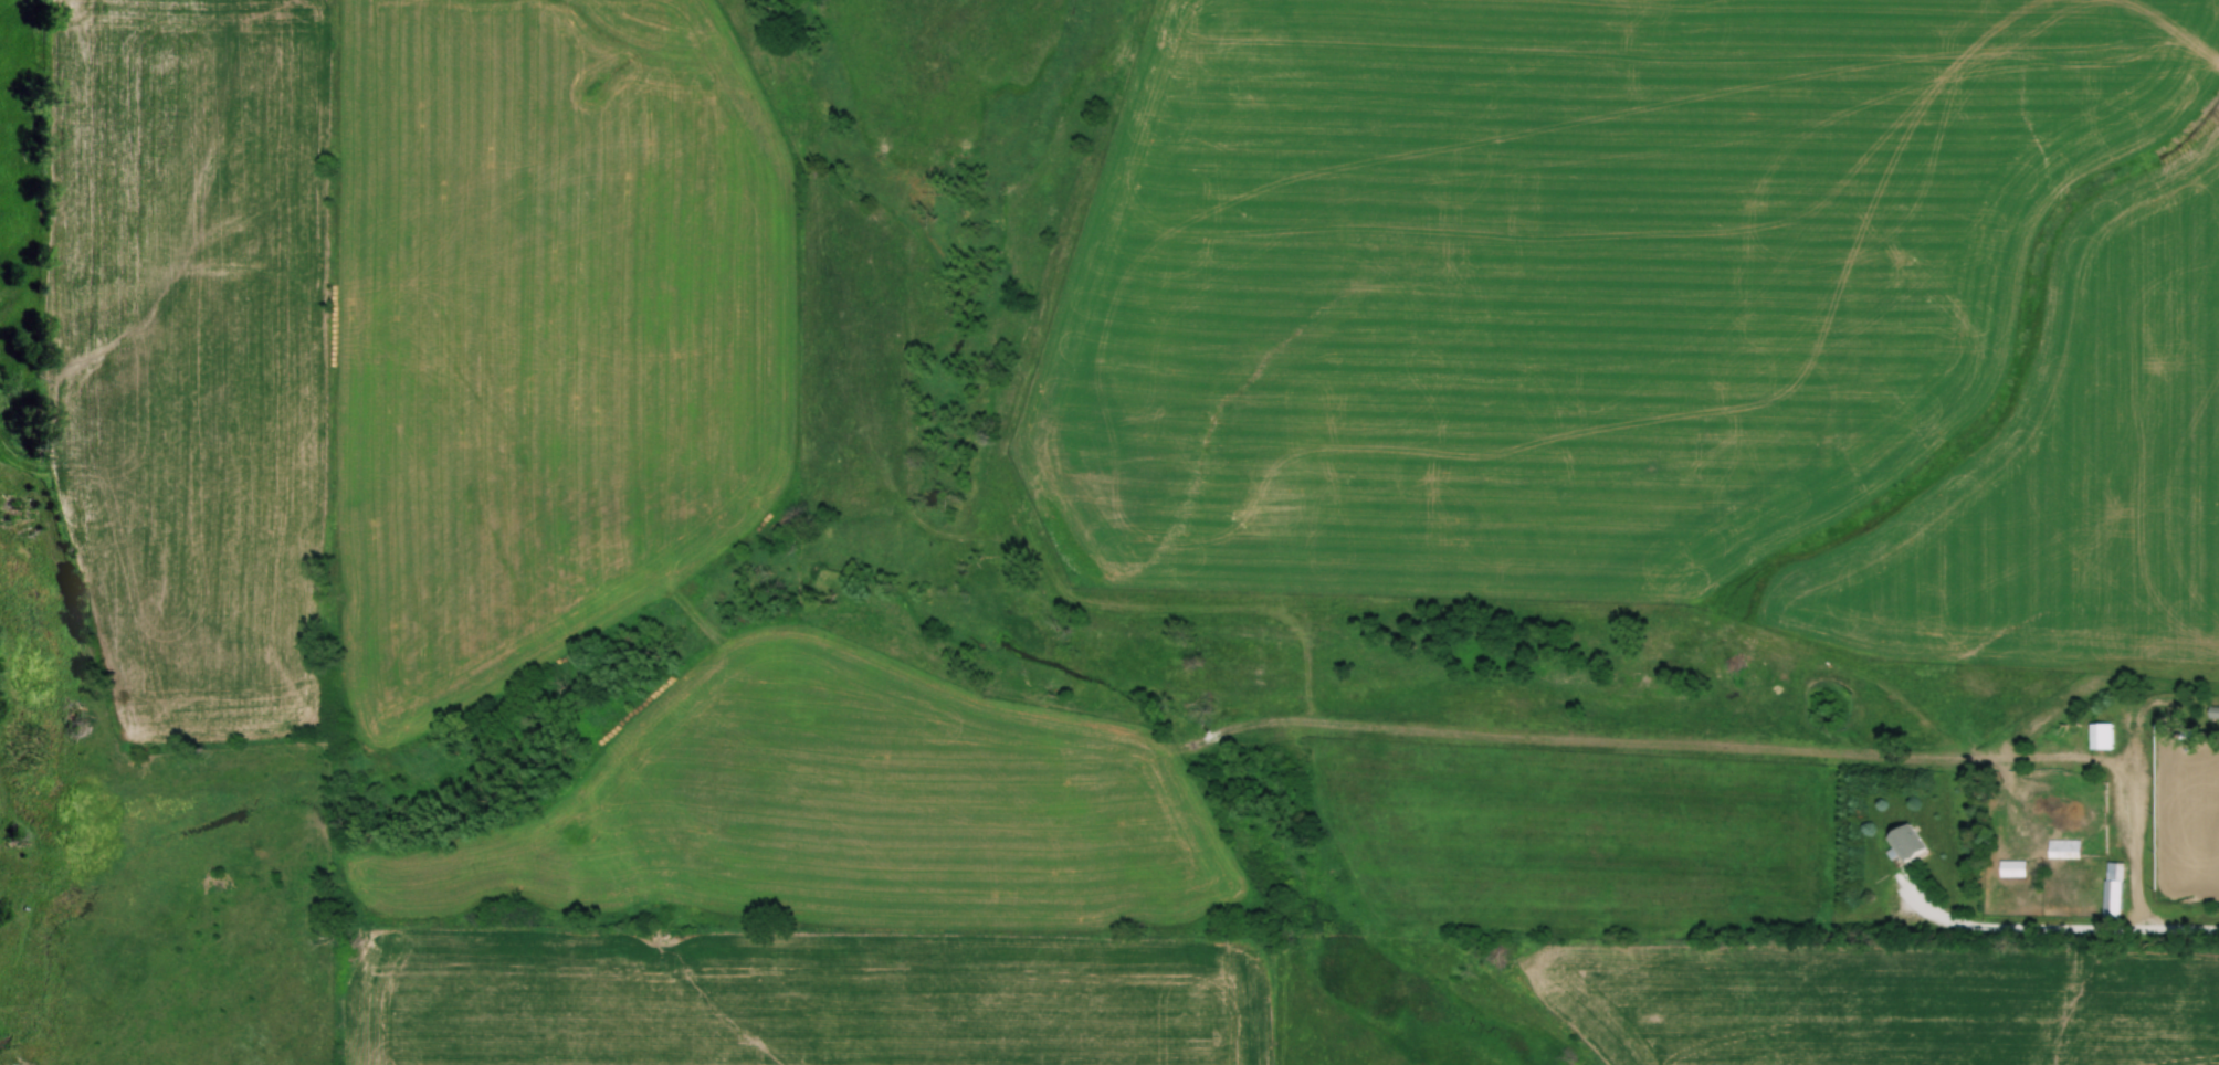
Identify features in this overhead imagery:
building: (2103, 736)
building: (1911, 844)
building: (2065, 848)
building: (2115, 890)
road: (2052, 930)

